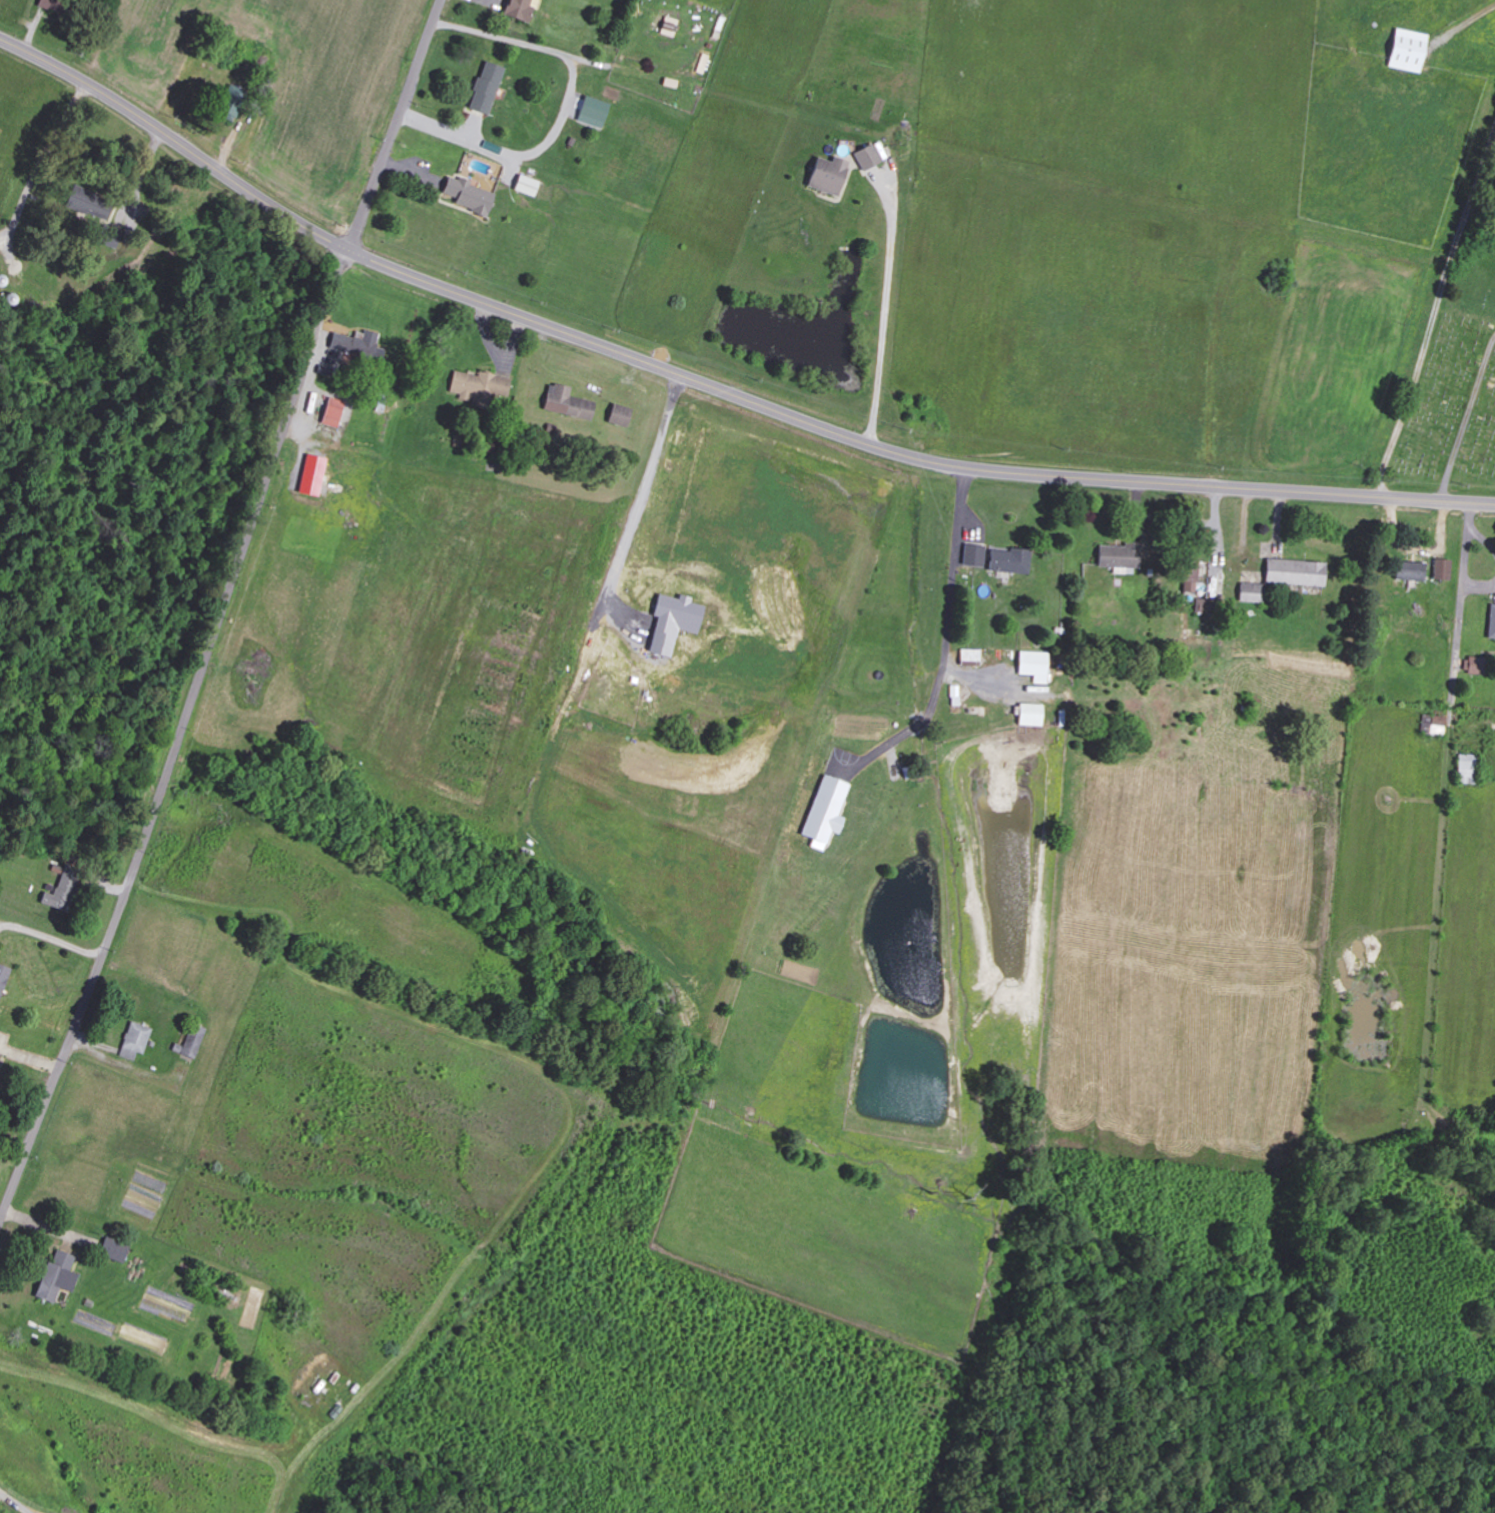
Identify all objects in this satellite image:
building: (60, 5)
building: (522, 9)
building: (1411, 50)
building: (488, 87)
road: (398, 123)
building: (869, 157)
building: (832, 175)
building: (527, 186)
building: (471, 195)
building: (90, 203)
building: (358, 344)
road: (712, 382)
park: (1457, 385)
building: (477, 387)
building: (569, 404)
building: (335, 413)
building: (621, 416)
building: (334, 471)
building: (1121, 556)
building: (1012, 560)
building: (1444, 569)
building: (1412, 571)
building: (1298, 572)
building: (1253, 593)
building: (1493, 622)
building: (972, 657)
building: (1036, 665)
building: (1477, 665)
building: (1033, 715)
road: (176, 725)
building: (1434, 726)
building: (1469, 769)
building: (65, 889)
building: (4, 978)
building: (136, 1041)
building: (193, 1041)
building: (116, 1250)
building: (59, 1276)

